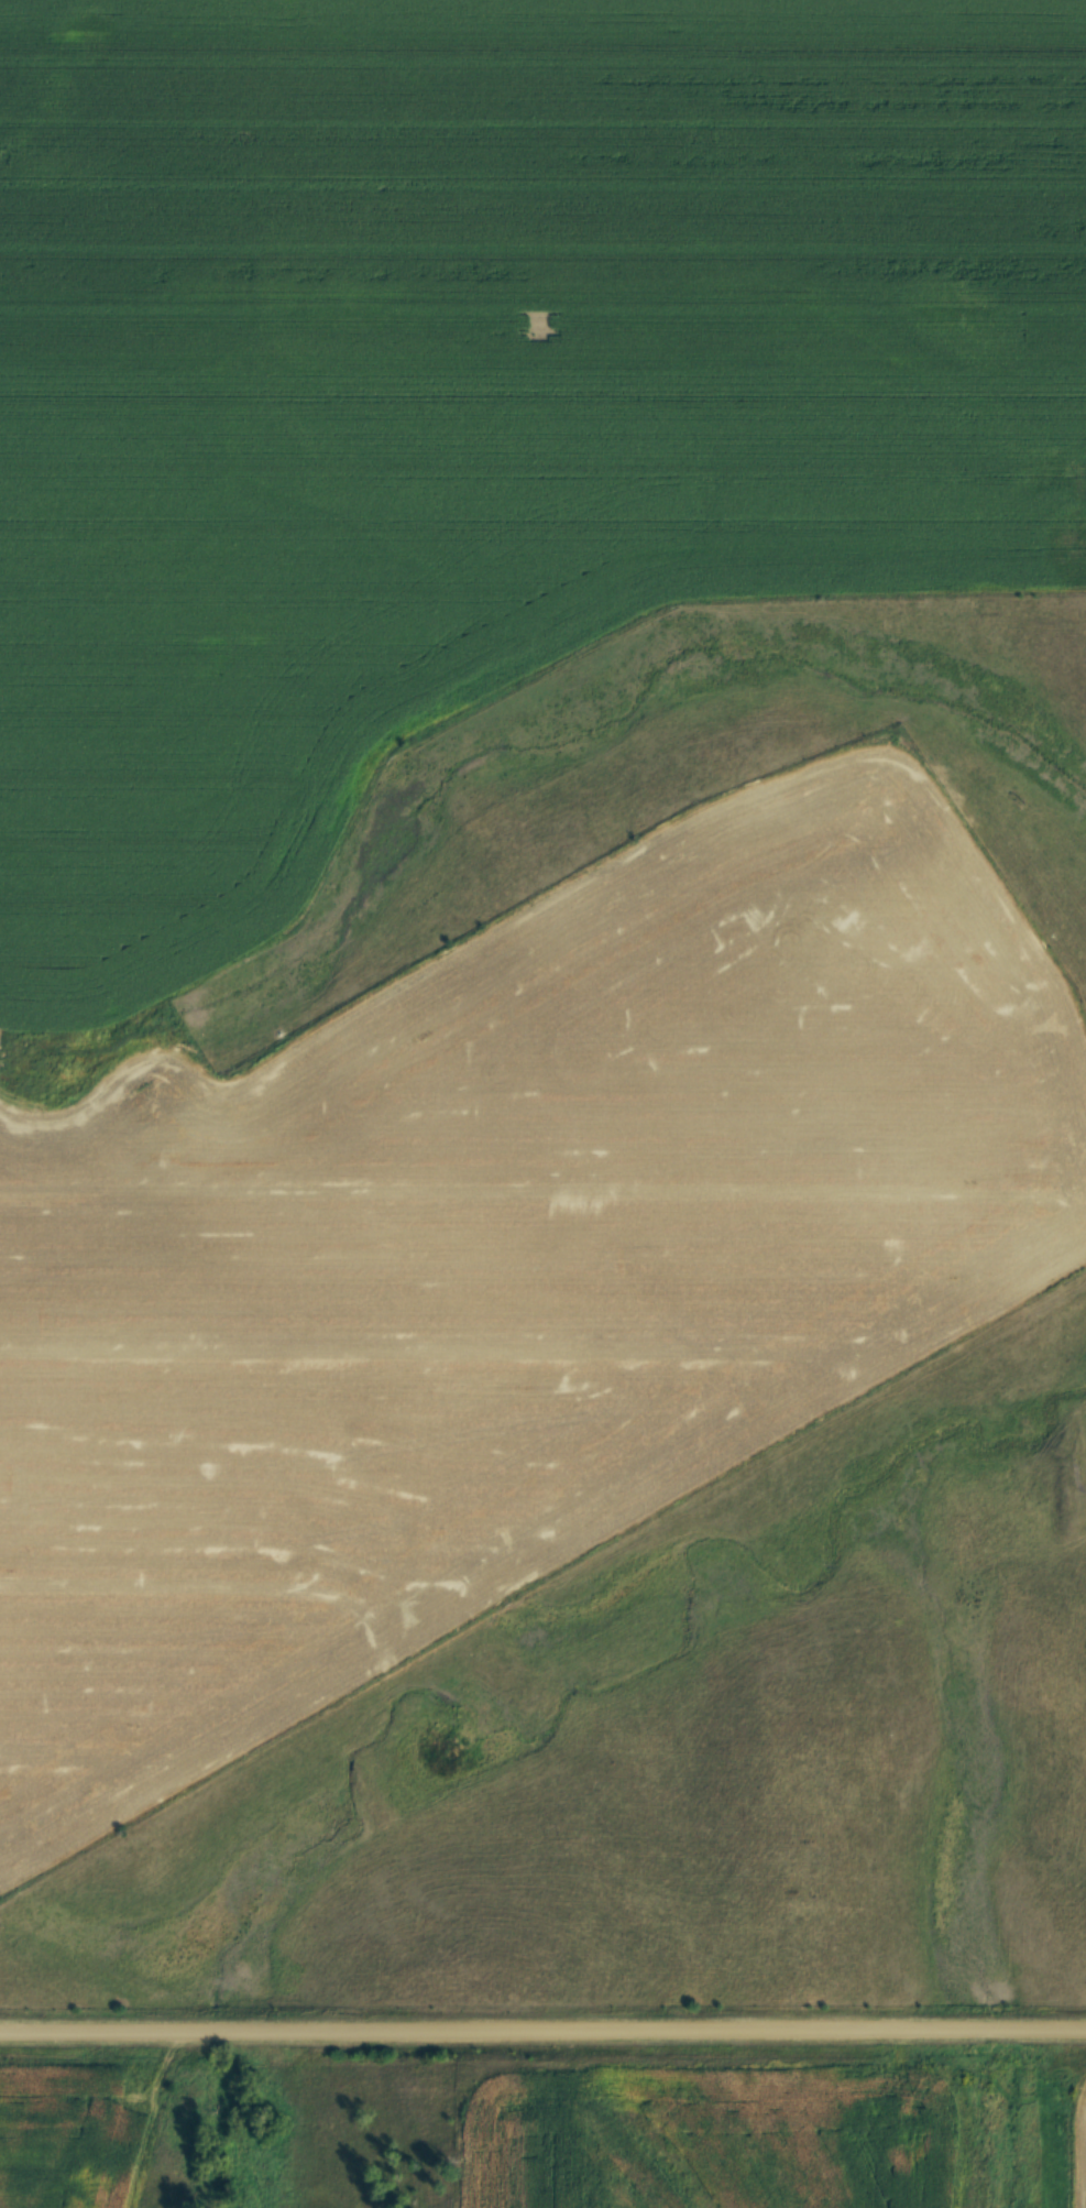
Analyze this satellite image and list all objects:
road: (542, 2040)

